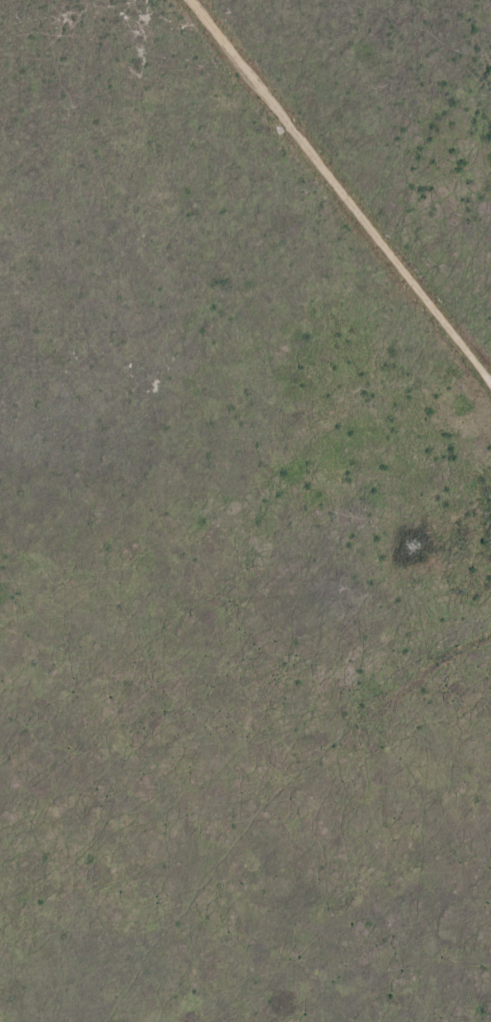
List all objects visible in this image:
road: (338, 195)

